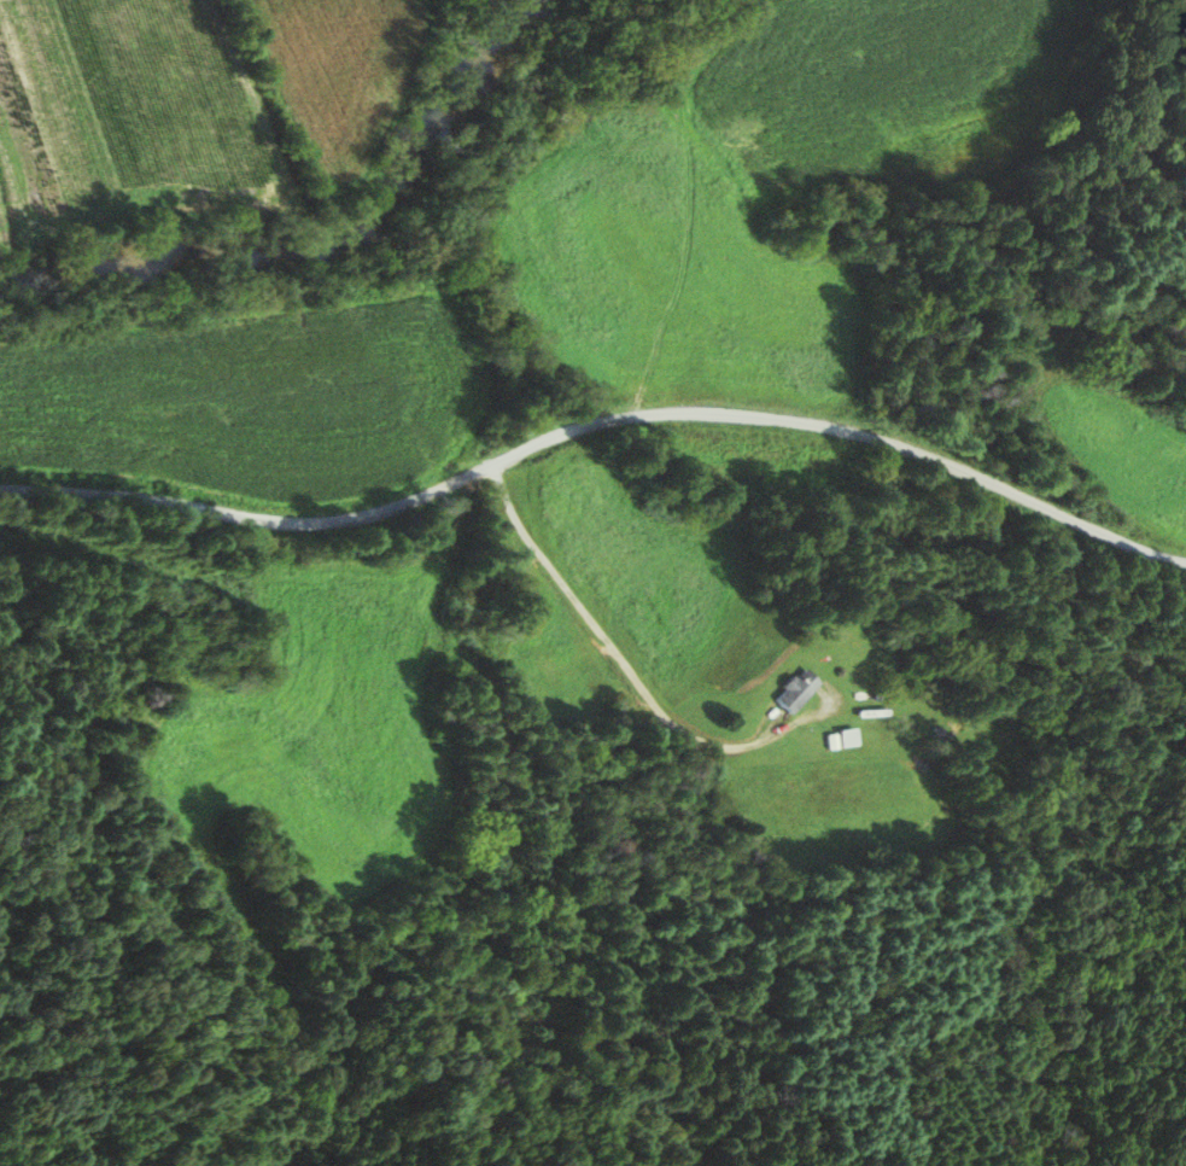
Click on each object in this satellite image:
river: (323, 251)
road: (595, 424)
road: (612, 663)
building: (791, 692)
building: (843, 739)

